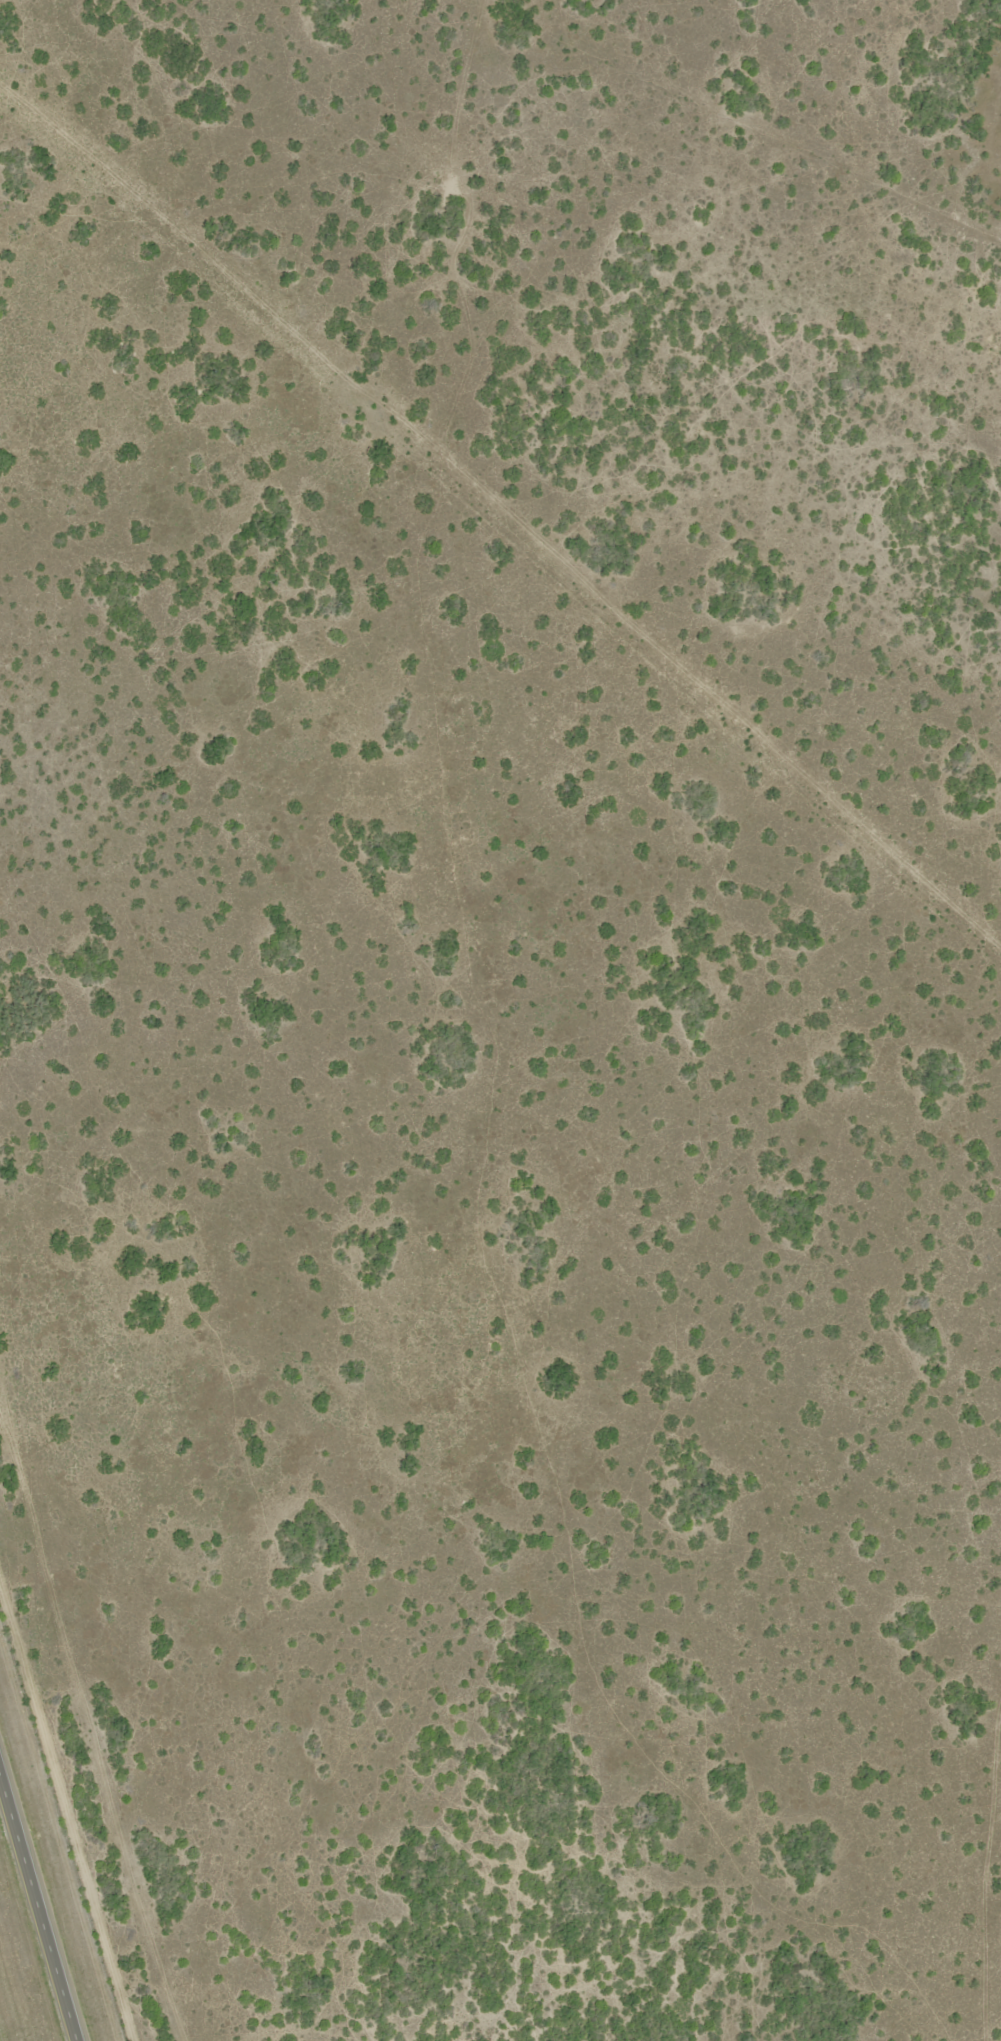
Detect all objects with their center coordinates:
road: (41, 1897)

